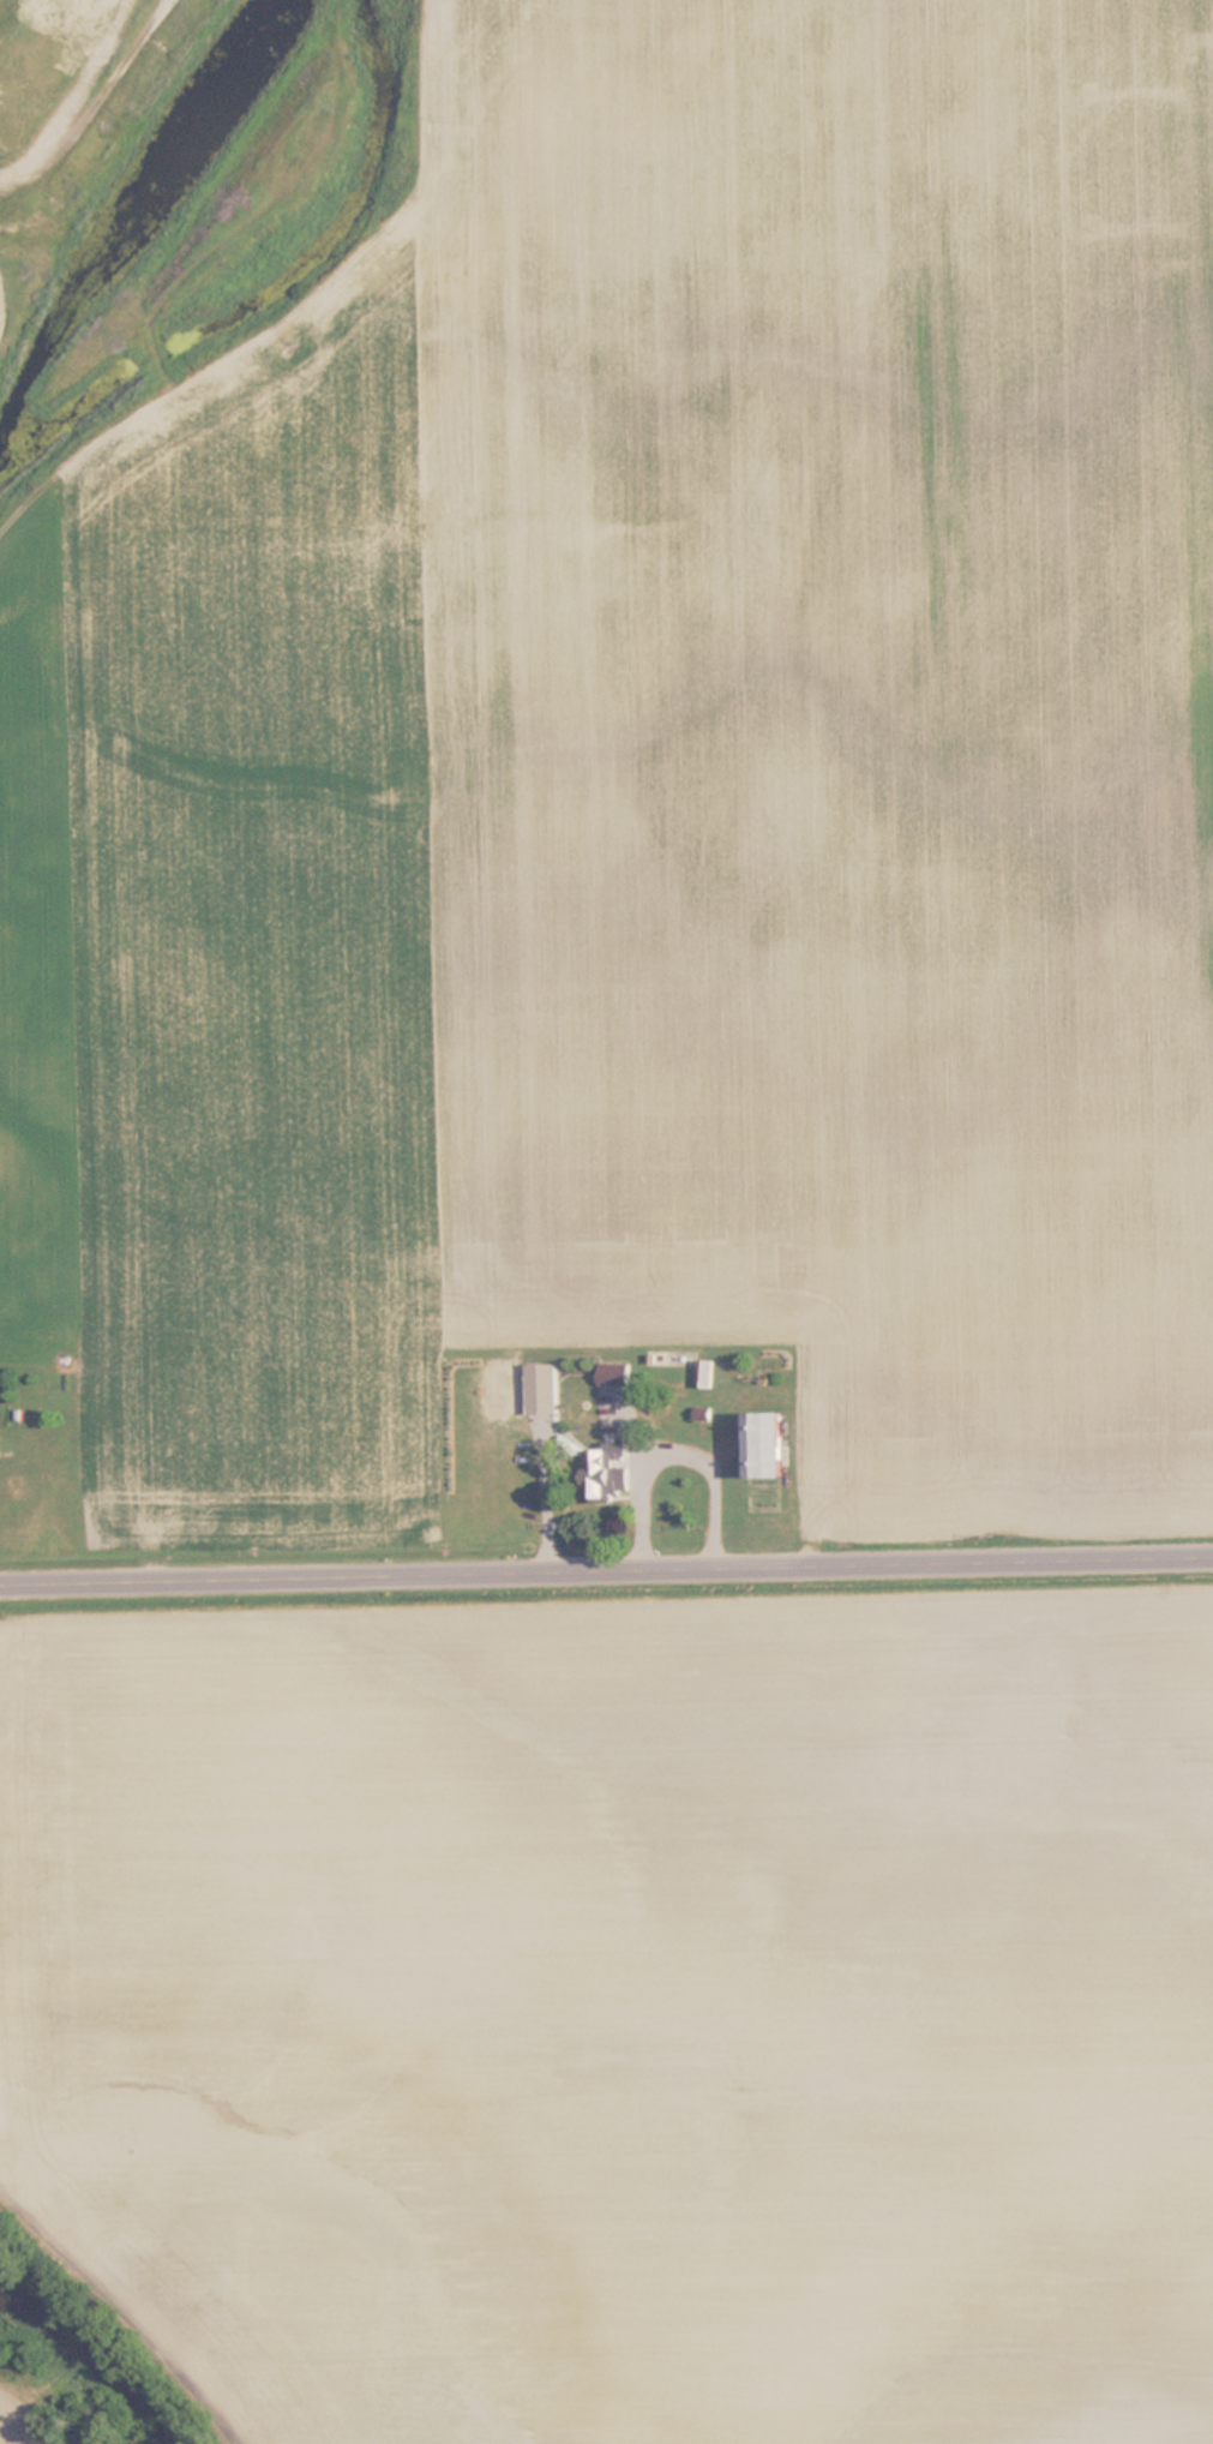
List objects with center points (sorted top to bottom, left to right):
building: (704, 1373)
building: (613, 1374)
building: (541, 1389)
building: (762, 1445)
building: (599, 1476)
building: (18, 1487)
road: (606, 1569)
river: (92, 2358)

